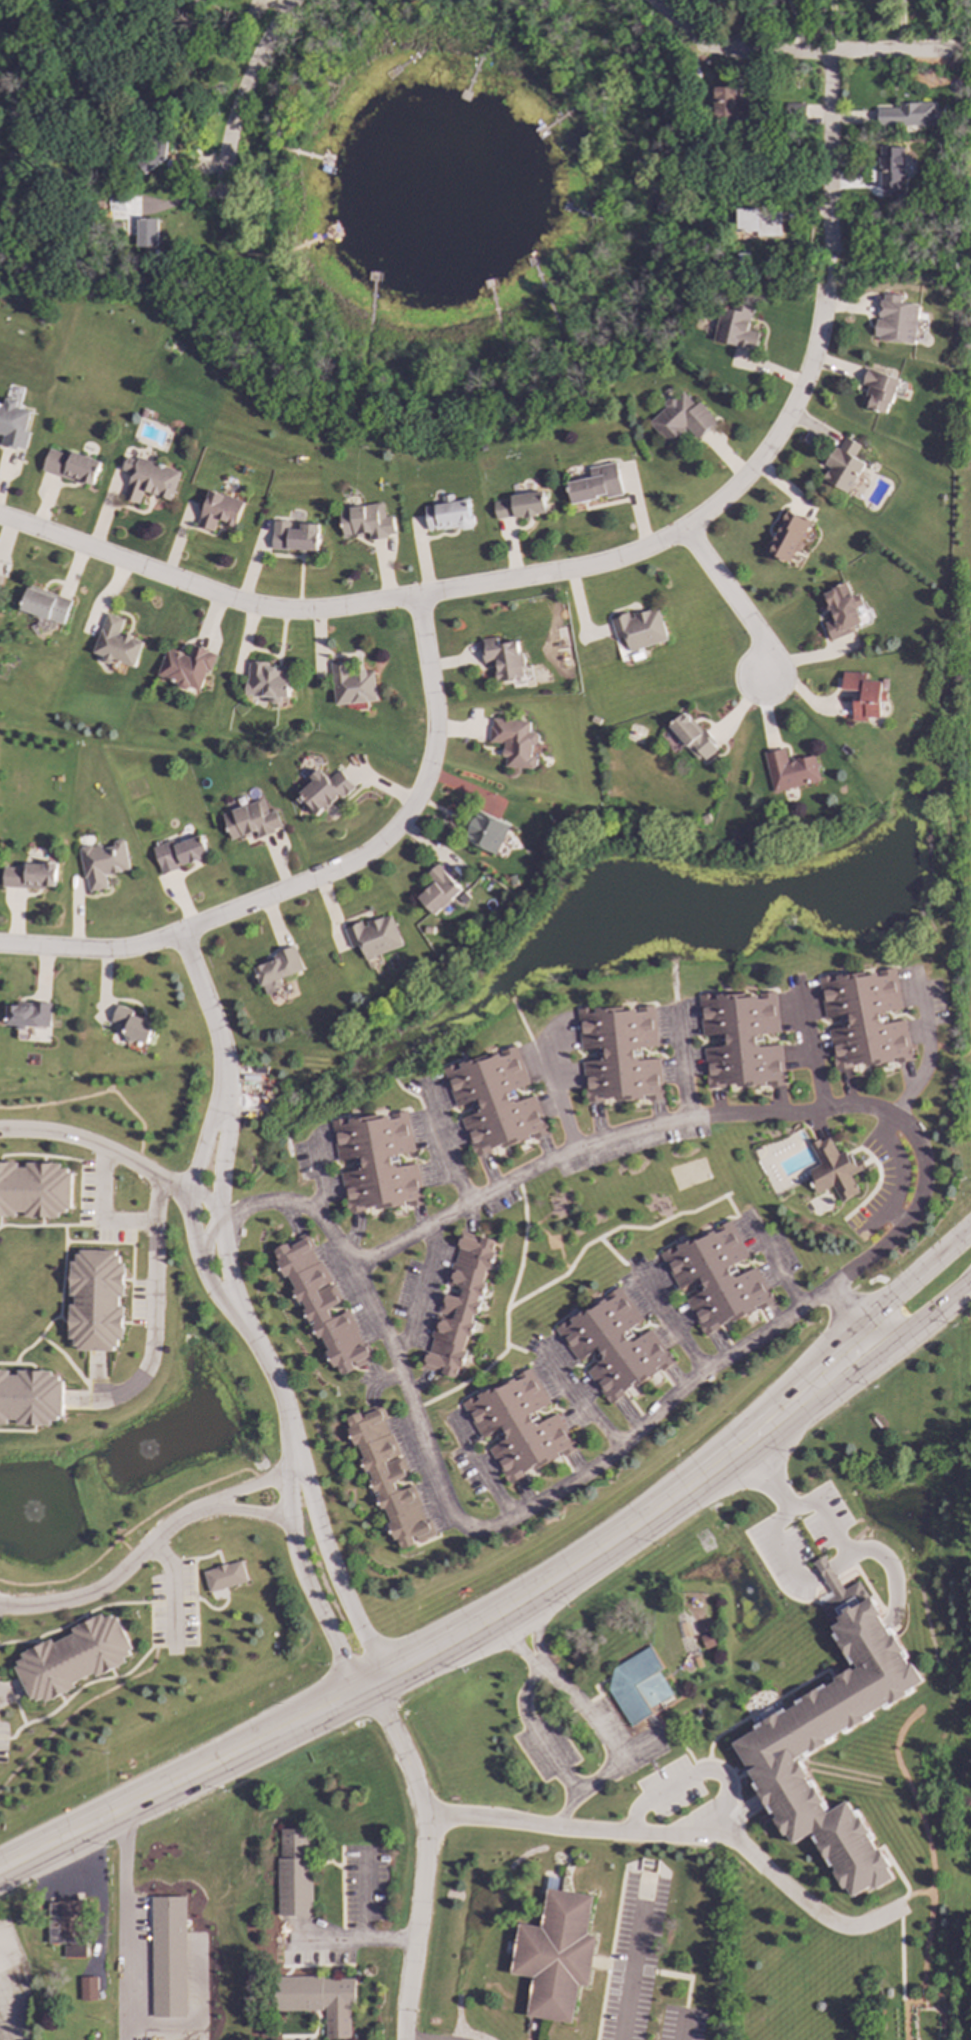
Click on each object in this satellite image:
building: (202, 0)
road: (899, 26)
road: (742, 27)
road: (832, 27)
road: (795, 28)
road: (961, 48)
road: (791, 56)
road: (243, 96)
building: (955, 96)
building: (729, 106)
building: (793, 109)
building: (911, 118)
road: (832, 156)
building: (150, 157)
building: (889, 168)
building: (758, 221)
building: (146, 233)
road: (830, 273)
building: (895, 320)
building: (735, 327)
building: (879, 390)
building: (680, 418)
building: (12, 425)
road: (782, 426)
building: (843, 465)
building: (71, 466)
building: (148, 480)
building: (595, 484)
building: (518, 507)
building: (218, 511)
building: (447, 514)
building: (366, 521)
building: (294, 537)
building: (788, 537)
building: (0, 576)
road: (732, 601)
building: (44, 605)
road: (338, 610)
building: (841, 612)
building: (639, 629)
building: (115, 643)
building: (503, 659)
building: (186, 667)
building: (266, 682)
building: (351, 685)
building: (864, 695)
building: (691, 737)
building: (515, 742)
building: (790, 771)
building: (323, 790)
building: (250, 821)
building: (485, 832)
building: (178, 853)
building: (101, 864)
building: (29, 876)
road: (320, 878)
building: (438, 890)
building: (373, 937)
building: (278, 970)
building: (27, 1015)
road: (211, 1016)
building: (864, 1019)
building: (131, 1025)
building: (740, 1040)
road: (948, 1050)
building: (619, 1054)
road: (812, 1057)
road: (924, 1061)
road: (682, 1073)
road: (559, 1100)
building: (495, 1102)
road: (715, 1118)
road: (448, 1153)
road: (117, 1160)
building: (377, 1162)
building: (832, 1170)
road: (898, 1173)
road: (319, 1182)
building: (34, 1191)
road: (279, 1203)
road: (102, 1209)
road: (223, 1218)
road: (194, 1221)
road: (777, 1271)
road: (917, 1274)
building: (715, 1278)
road: (421, 1292)
building: (95, 1301)
building: (321, 1304)
building: (459, 1304)
road: (929, 1310)
road: (848, 1315)
road: (154, 1318)
road: (674, 1329)
building: (614, 1345)
road: (277, 1388)
building: (30, 1397)
road: (585, 1403)
building: (518, 1426)
building: (388, 1477)
road: (482, 1477)
road: (242, 1492)
road: (537, 1505)
road: (792, 1508)
road: (244, 1515)
road: (781, 1549)
road: (886, 1567)
road: (332, 1570)
building: (224, 1576)
road: (303, 1577)
road: (111, 1583)
road: (172, 1590)
road: (461, 1633)
building: (72, 1658)
building: (637, 1686)
road: (561, 1687)
road: (538, 1733)
building: (829, 1736)
road: (687, 1776)
road: (596, 1780)
road: (726, 1821)
road: (679, 1837)
road: (423, 1856)
building: (293, 1872)
road: (361, 1895)
road: (122, 1924)
building: (66, 1926)
road: (350, 1939)
road: (1, 1947)
building: (554, 1955)
building: (168, 1957)
road: (631, 1962)
building: (88, 1989)
building: (318, 2000)
road: (681, 2028)

